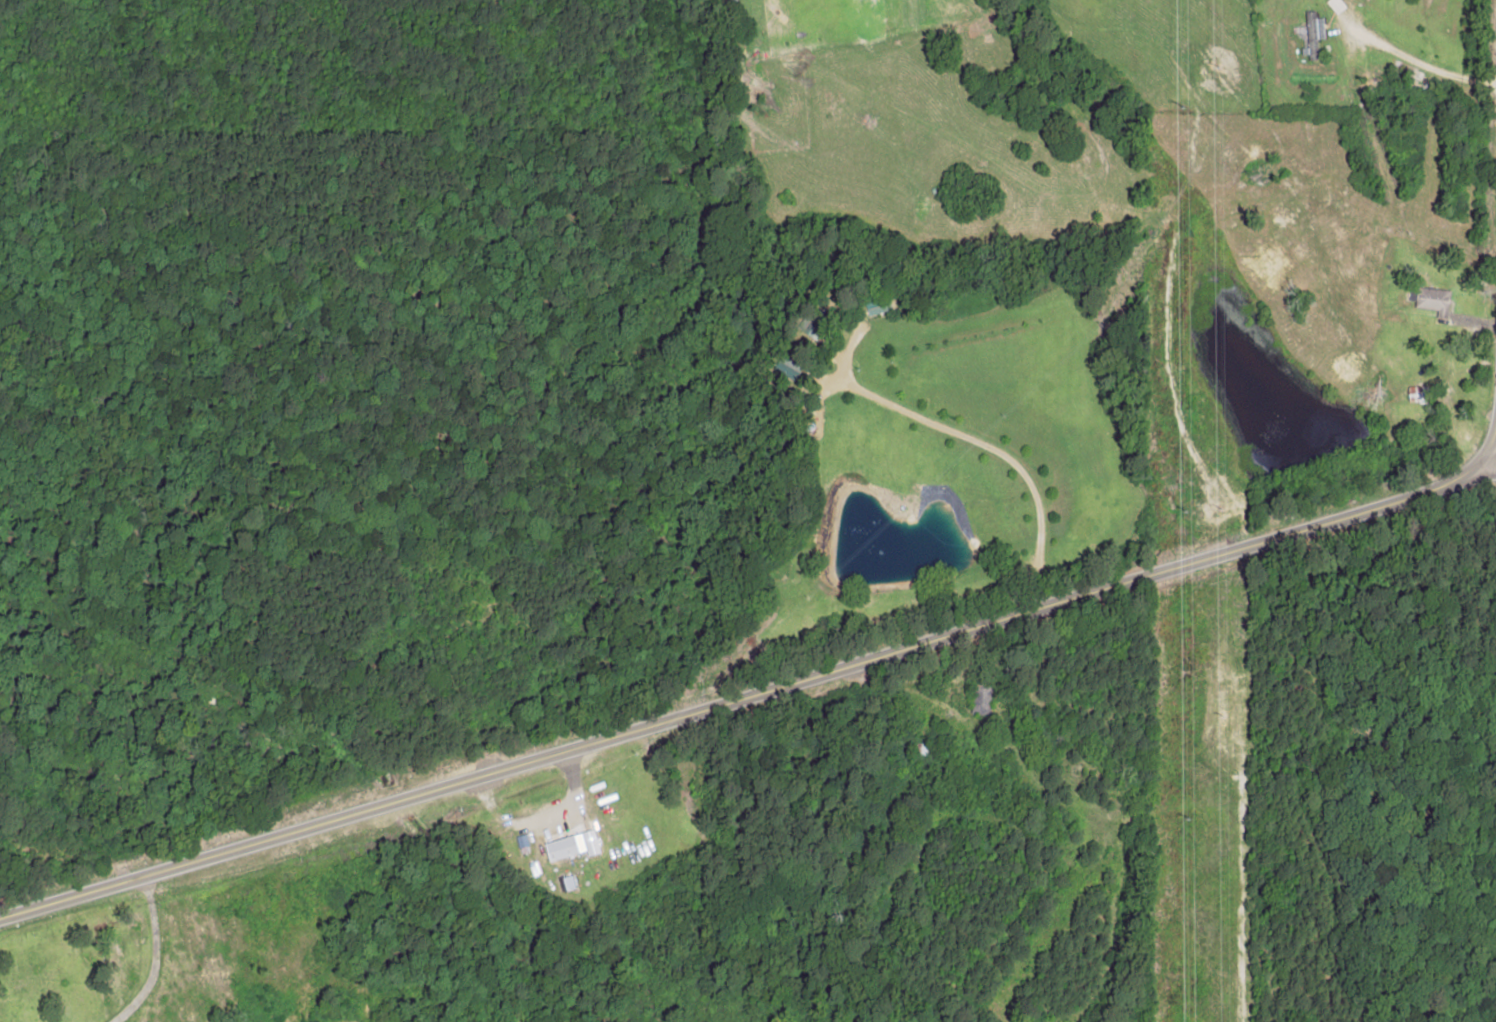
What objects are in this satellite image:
building: (1335, 5)
building: (1312, 33)
building: (1432, 300)
road: (1492, 308)
building: (1417, 394)
road: (1492, 446)
road: (752, 693)
building: (588, 843)
building: (559, 848)

